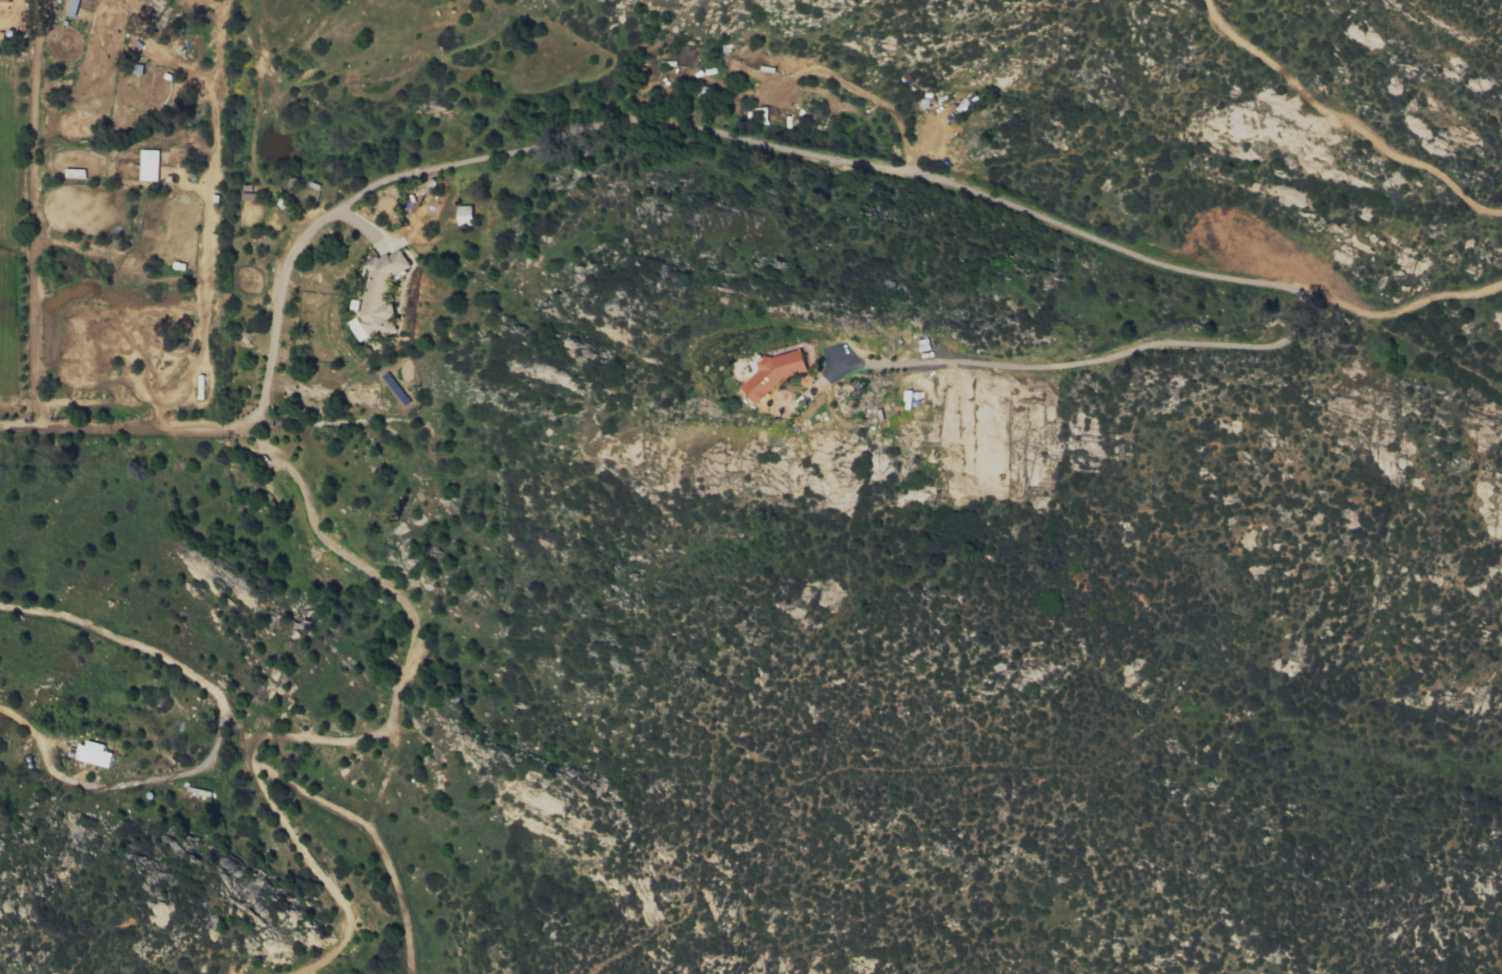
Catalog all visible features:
building: (5, 0)
building: (80, 8)
building: (149, 164)
road: (949, 185)
road: (32, 213)
building: (464, 215)
road: (208, 221)
building: (377, 294)
building: (773, 372)
road: (124, 425)
road: (403, 670)
road: (217, 731)
building: (93, 753)
road: (267, 803)

